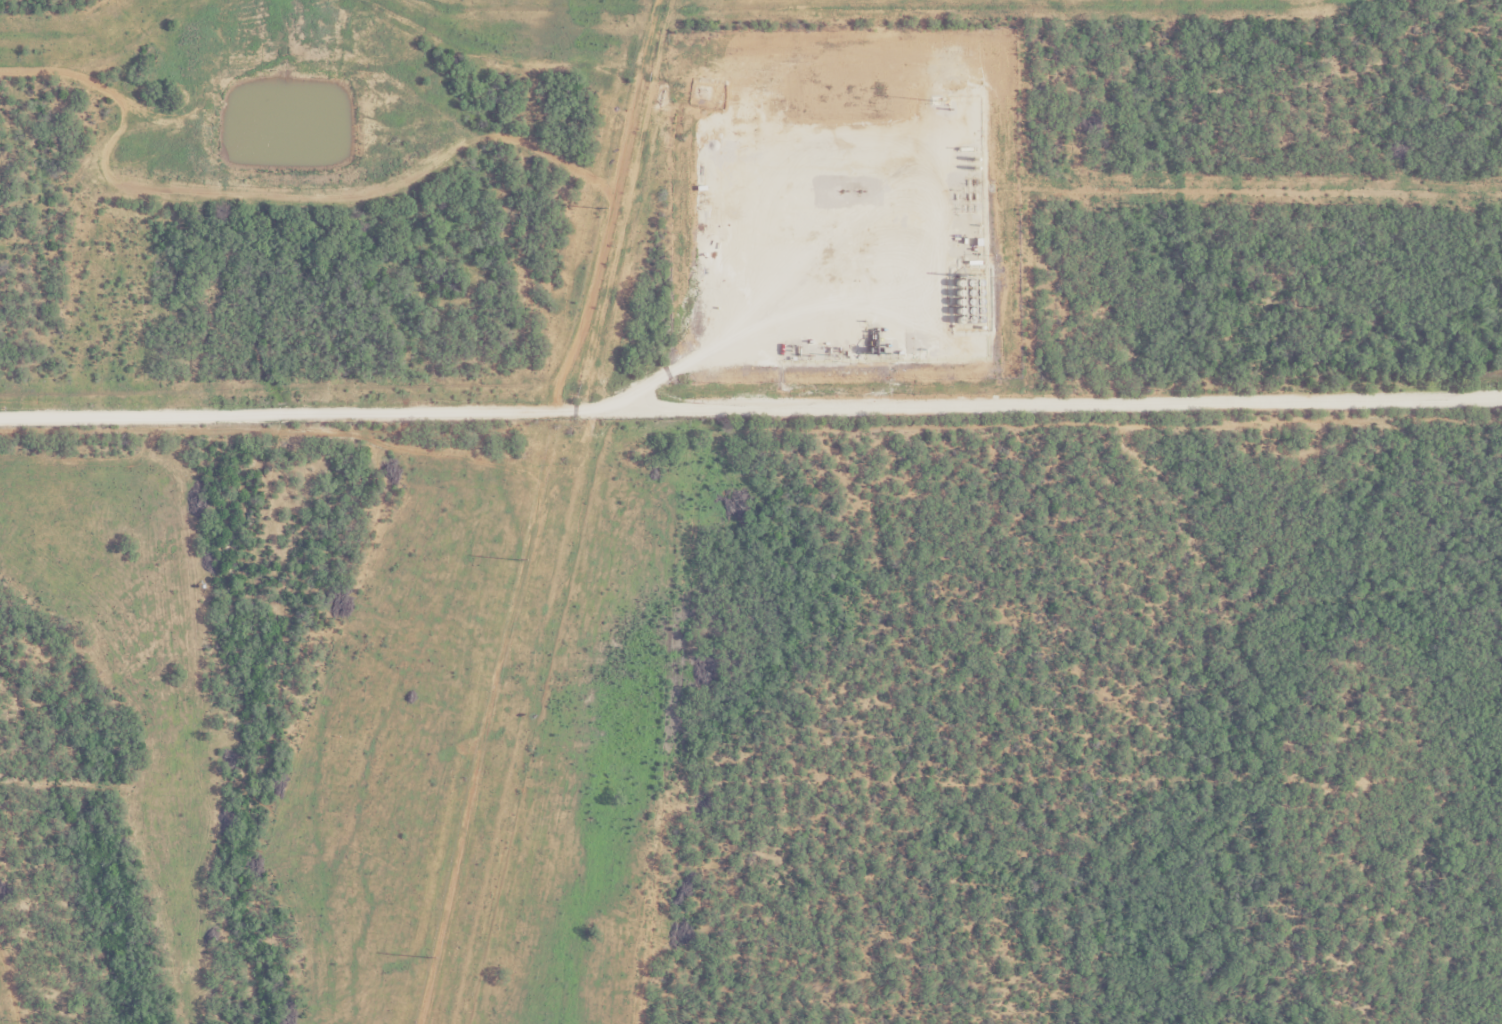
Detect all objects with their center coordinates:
power tower: (597, 207)
power tower: (517, 559)
power tower: (427, 955)

